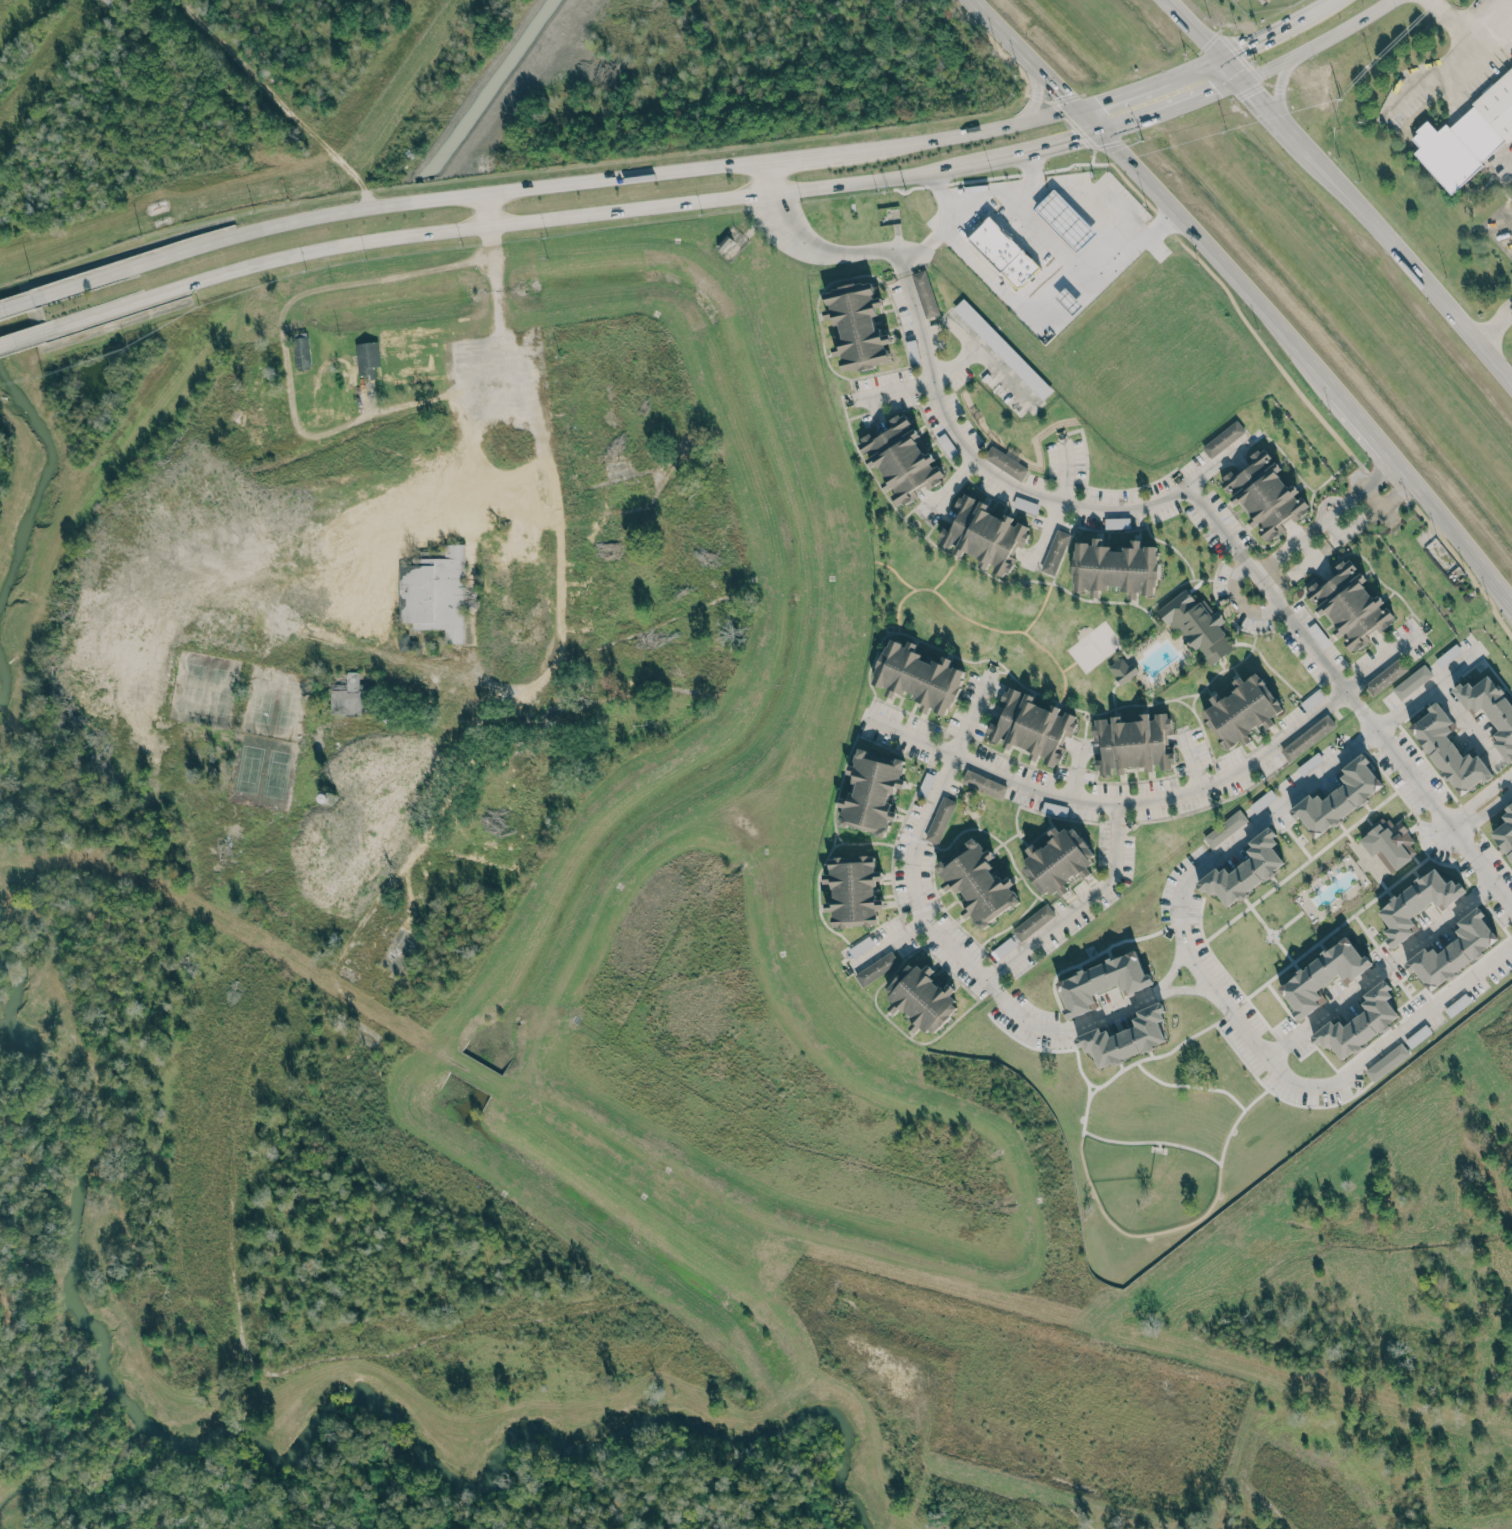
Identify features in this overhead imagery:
road: (1205, 38)
road: (1472, 40)
road: (1317, 42)
road: (994, 44)
road: (1206, 60)
road: (1432, 76)
traffic signals: (1243, 78)
road: (1278, 89)
road: (1035, 92)
road: (1038, 98)
road: (1060, 100)
road: (1281, 121)
road: (1076, 127)
road: (1110, 127)
traffic signals: (1097, 132)
building: (1468, 135)
road: (1508, 160)
road: (769, 177)
road: (550, 185)
road: (985, 189)
road: (1087, 204)
road: (485, 209)
power substation: (888, 214)
road: (1026, 217)
building: (1065, 220)
road: (504, 224)
road: (923, 246)
road: (820, 248)
building: (1003, 252)
road: (1416, 271)
building: (925, 291)
road: (1229, 296)
road: (1250, 296)
road: (16, 302)
road: (1033, 305)
road: (1494, 320)
building: (858, 323)
road: (22, 337)
building: (1003, 346)
building: (913, 350)
road: (983, 354)
building: (367, 358)
road: (897, 387)
road: (287, 401)
building: (1223, 437)
building: (947, 445)
road: (1281, 453)
building: (902, 455)
building: (1005, 460)
road: (1212, 464)
road: (1380, 472)
road: (1379, 474)
road: (1064, 476)
road: (1358, 478)
river: (39, 480)
road: (957, 483)
building: (1263, 491)
road: (1396, 494)
road: (1372, 496)
building: (1025, 503)
road: (1388, 514)
road: (1214, 520)
building: (1117, 521)
road: (1294, 526)
road: (1310, 529)
building: (983, 530)
road: (1247, 547)
road: (1326, 549)
building: (1054, 550)
building: (1115, 564)
road: (1463, 566)
building: (437, 593)
building: (1353, 604)
building: (1196, 622)
building: (1318, 634)
park: (1094, 645)
building: (1449, 654)
building: (1123, 668)
building: (919, 671)
building: (1385, 674)
river: (4, 679)
building: (1412, 680)
building: (349, 696)
building: (1313, 698)
building: (1491, 705)
building: (1243, 708)
building: (1030, 722)
road: (1466, 723)
building: (1308, 736)
building: (1131, 740)
building: (1450, 748)
road: (1191, 759)
building: (1310, 763)
road: (1074, 769)
building: (983, 782)
building: (926, 784)
building: (871, 790)
building: (1339, 793)
road: (1160, 796)
road: (1479, 796)
building: (1262, 799)
building: (1053, 807)
road: (1483, 812)
building: (939, 818)
building: (1225, 826)
building: (1504, 828)
road: (914, 837)
building: (1390, 840)
road: (1423, 851)
building: (1058, 858)
road: (1299, 865)
building: (1245, 866)
building: (978, 881)
building: (854, 888)
building: (1418, 900)
road: (1077, 905)
building: (1033, 921)
road: (1285, 922)
road: (1327, 932)
road: (1269, 933)
road: (890, 938)
building: (860, 945)
road: (1182, 945)
building: (1454, 946)
building: (1003, 947)
road: (1175, 965)
building: (876, 967)
road: (1378, 969)
building: (1323, 972)
road: (1227, 975)
building: (1103, 977)
road: (1188, 988)
building: (923, 996)
building: (1457, 1004)
building: (1360, 1019)
road: (1278, 1021)
road: (1067, 1028)
road: (1302, 1030)
road: (1070, 1032)
building: (1126, 1034)
building: (1417, 1035)
road: (1024, 1044)
building: (1387, 1061)
road: (1188, 1086)
road: (1087, 1089)
road: (1091, 1090)
road: (1279, 1098)
road: (1083, 1115)
road: (1233, 1122)
road: (1151, 1142)
road: (1134, 1234)
river: (315, 1427)

